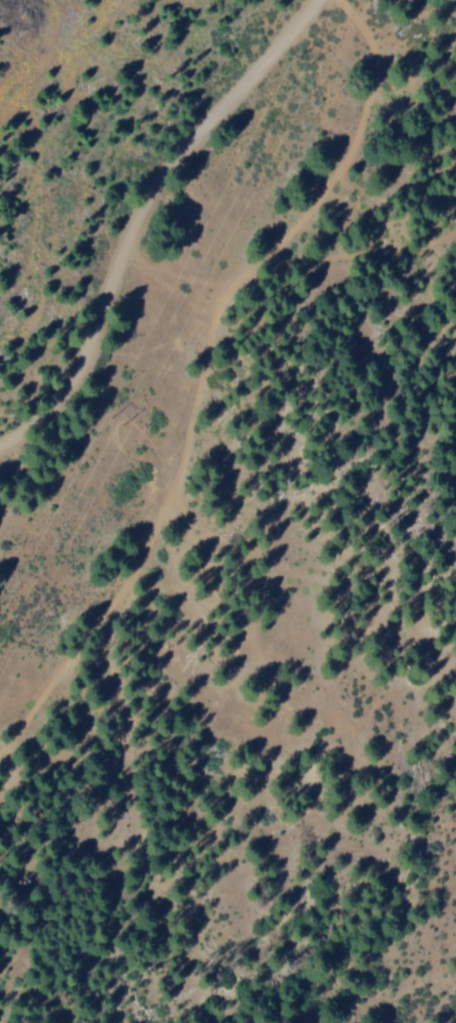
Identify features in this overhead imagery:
power tower: (306, 57)
road: (139, 210)
power tower: (129, 418)

